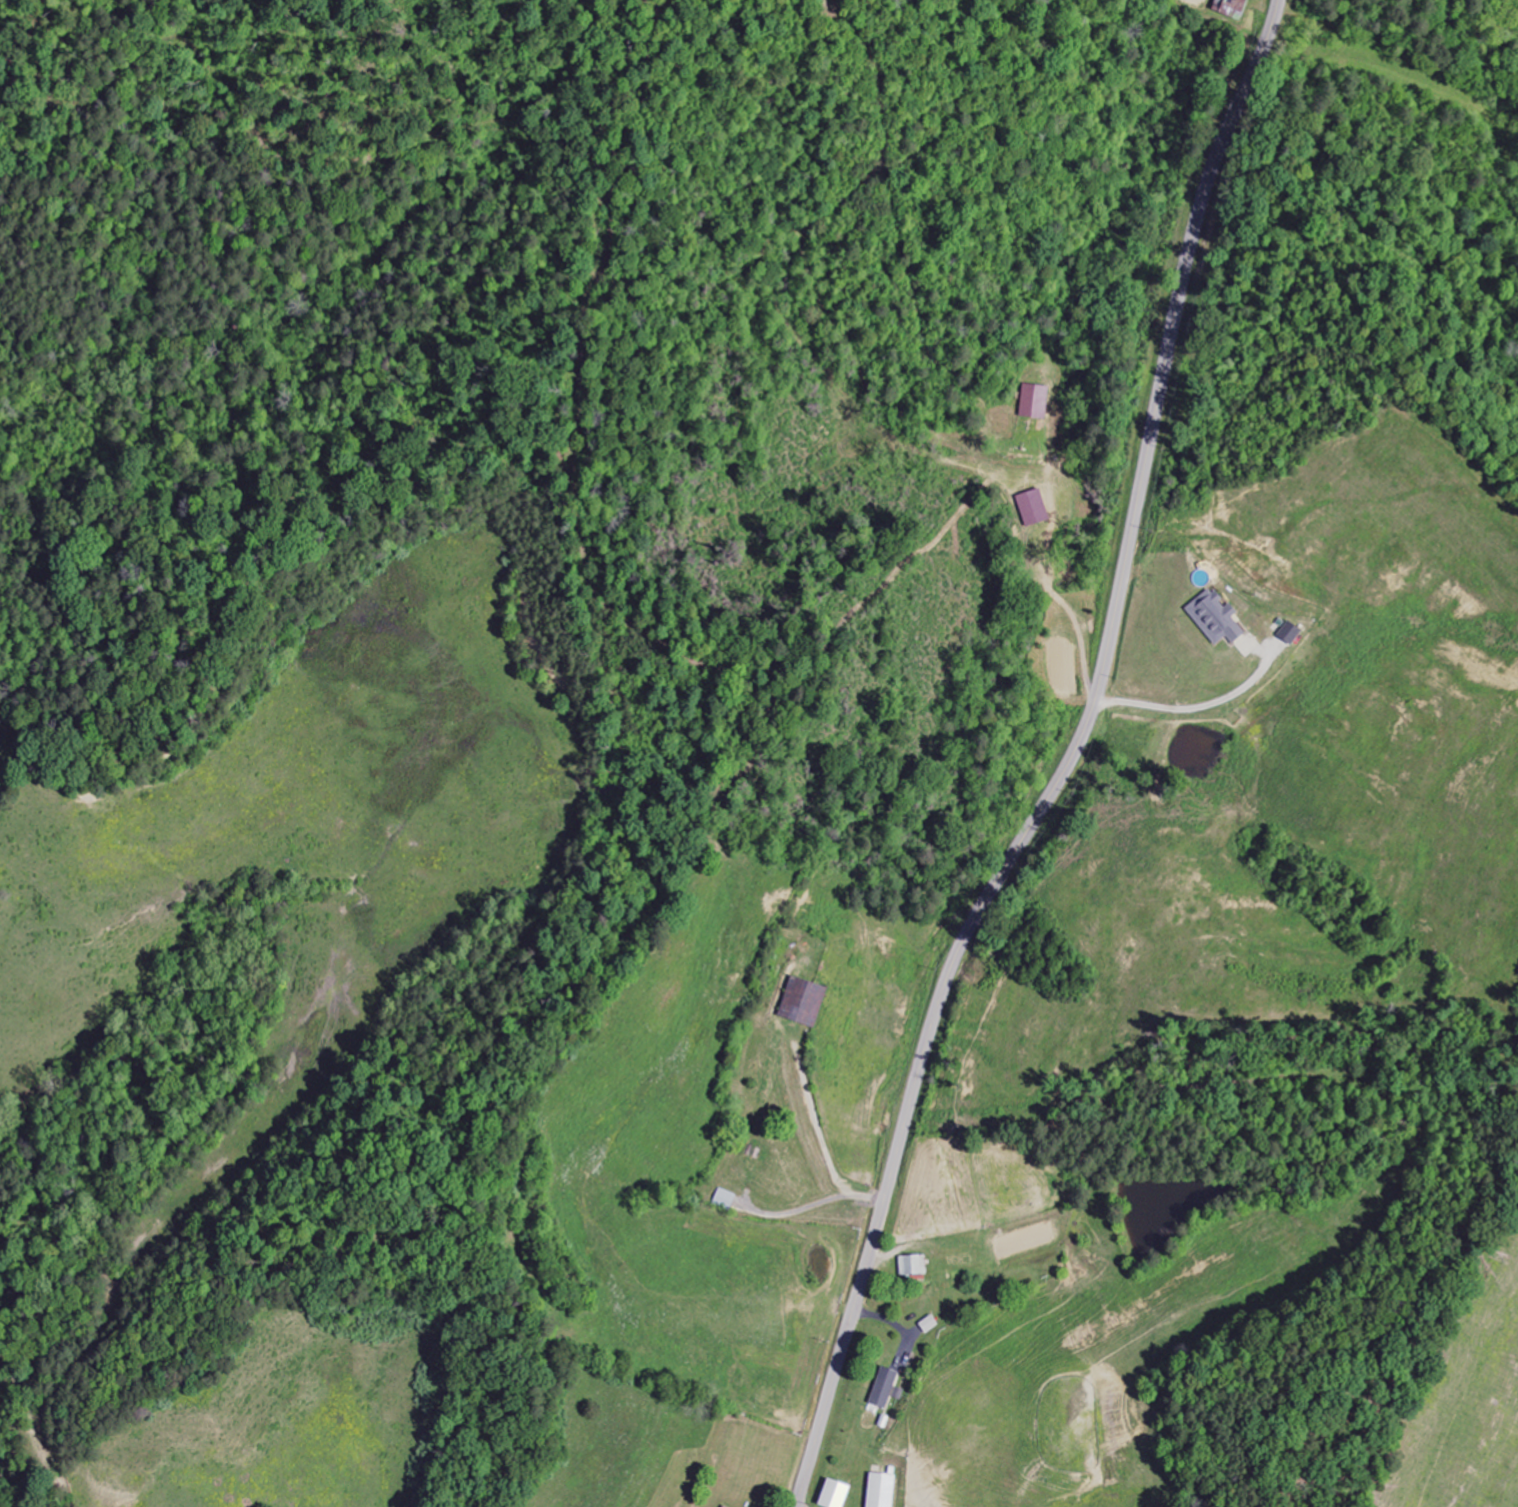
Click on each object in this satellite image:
building: (1230, 8)
building: (1033, 401)
building: (1032, 507)
building: (1214, 618)
building: (1289, 632)
road: (1063, 762)
building: (801, 1001)
building: (911, 1265)
building: (883, 1387)
building: (880, 1490)
building: (832, 1494)
building: (721, 1506)

